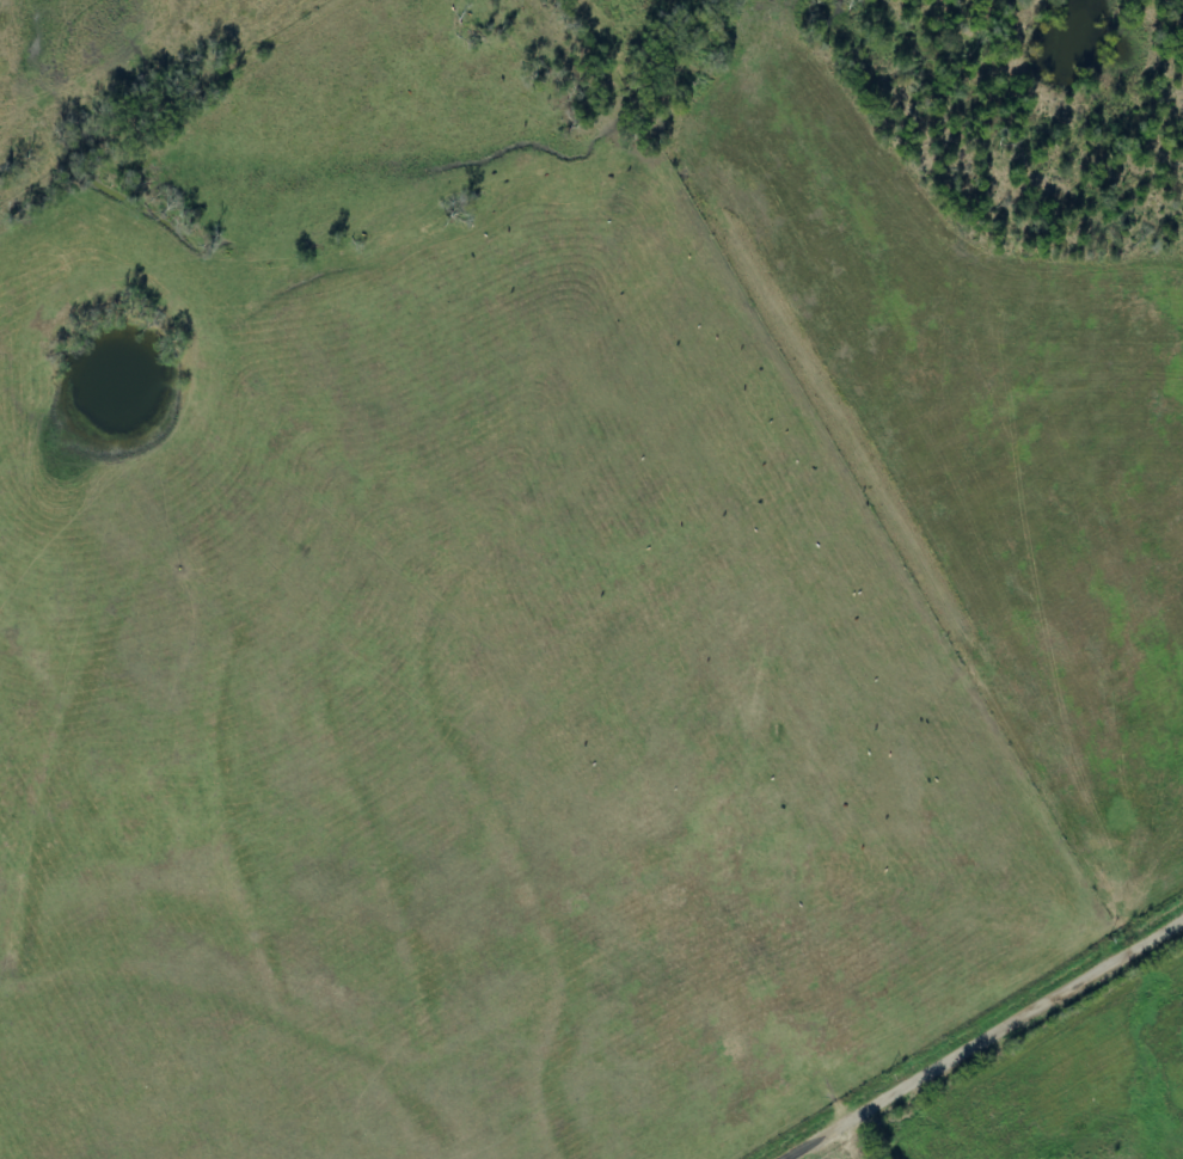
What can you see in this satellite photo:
road: (989, 1043)

